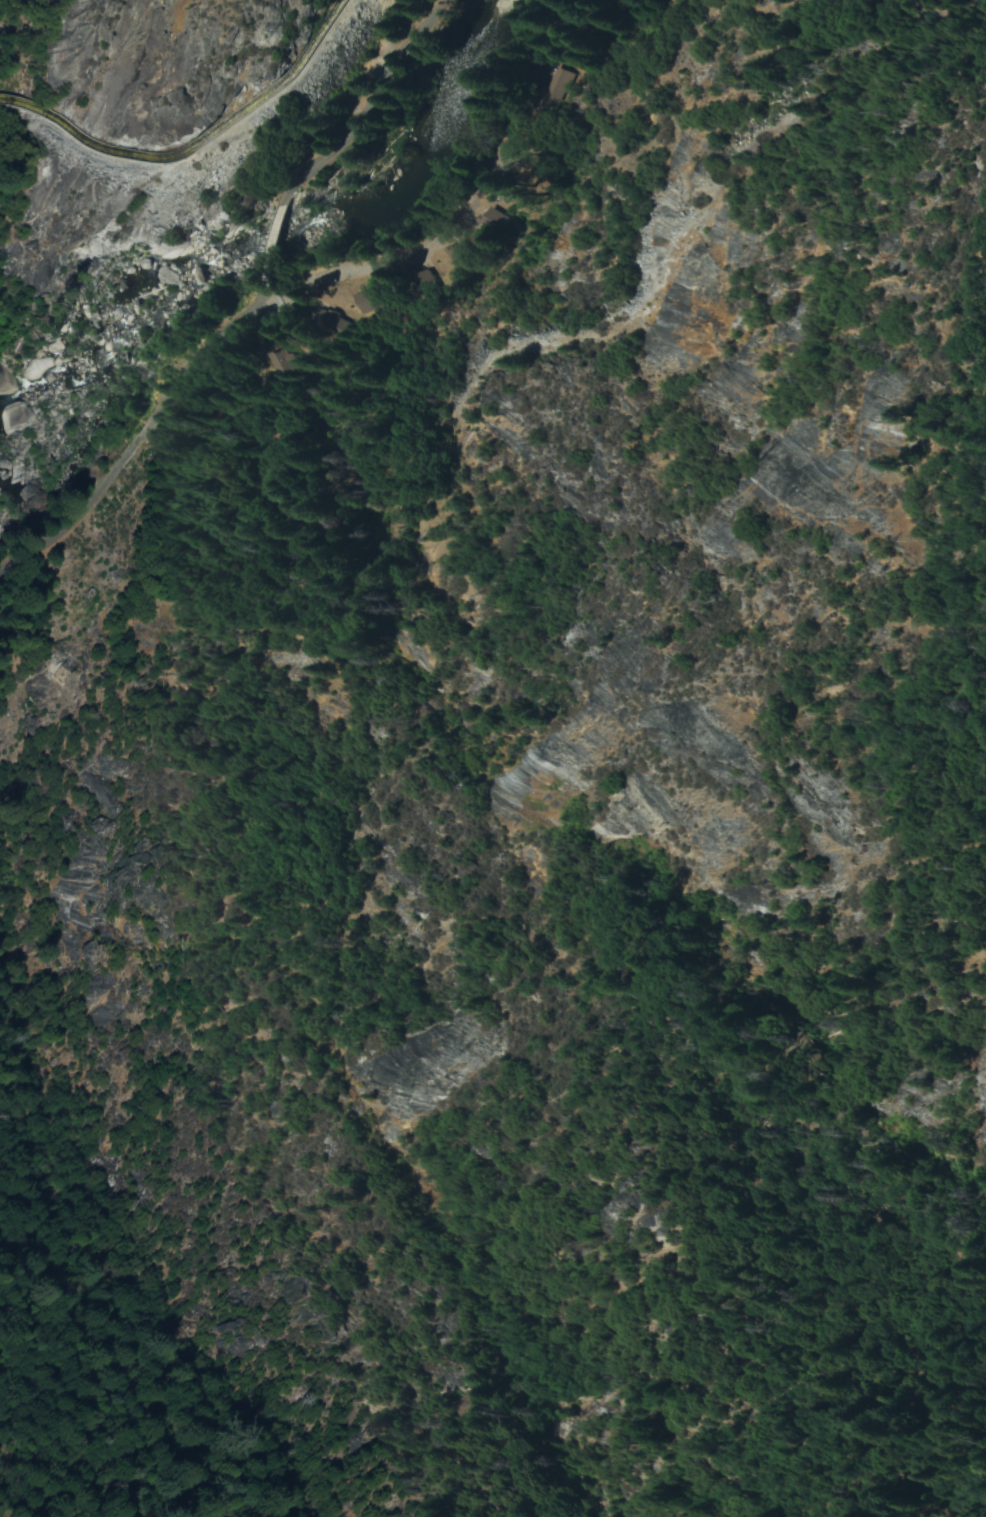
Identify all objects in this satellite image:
road: (373, 62)
building: (548, 88)
building: (491, 218)
river: (249, 264)
road: (371, 266)
building: (422, 280)
building: (325, 321)
road: (188, 358)
road: (413, 397)
power tower: (61, 679)

